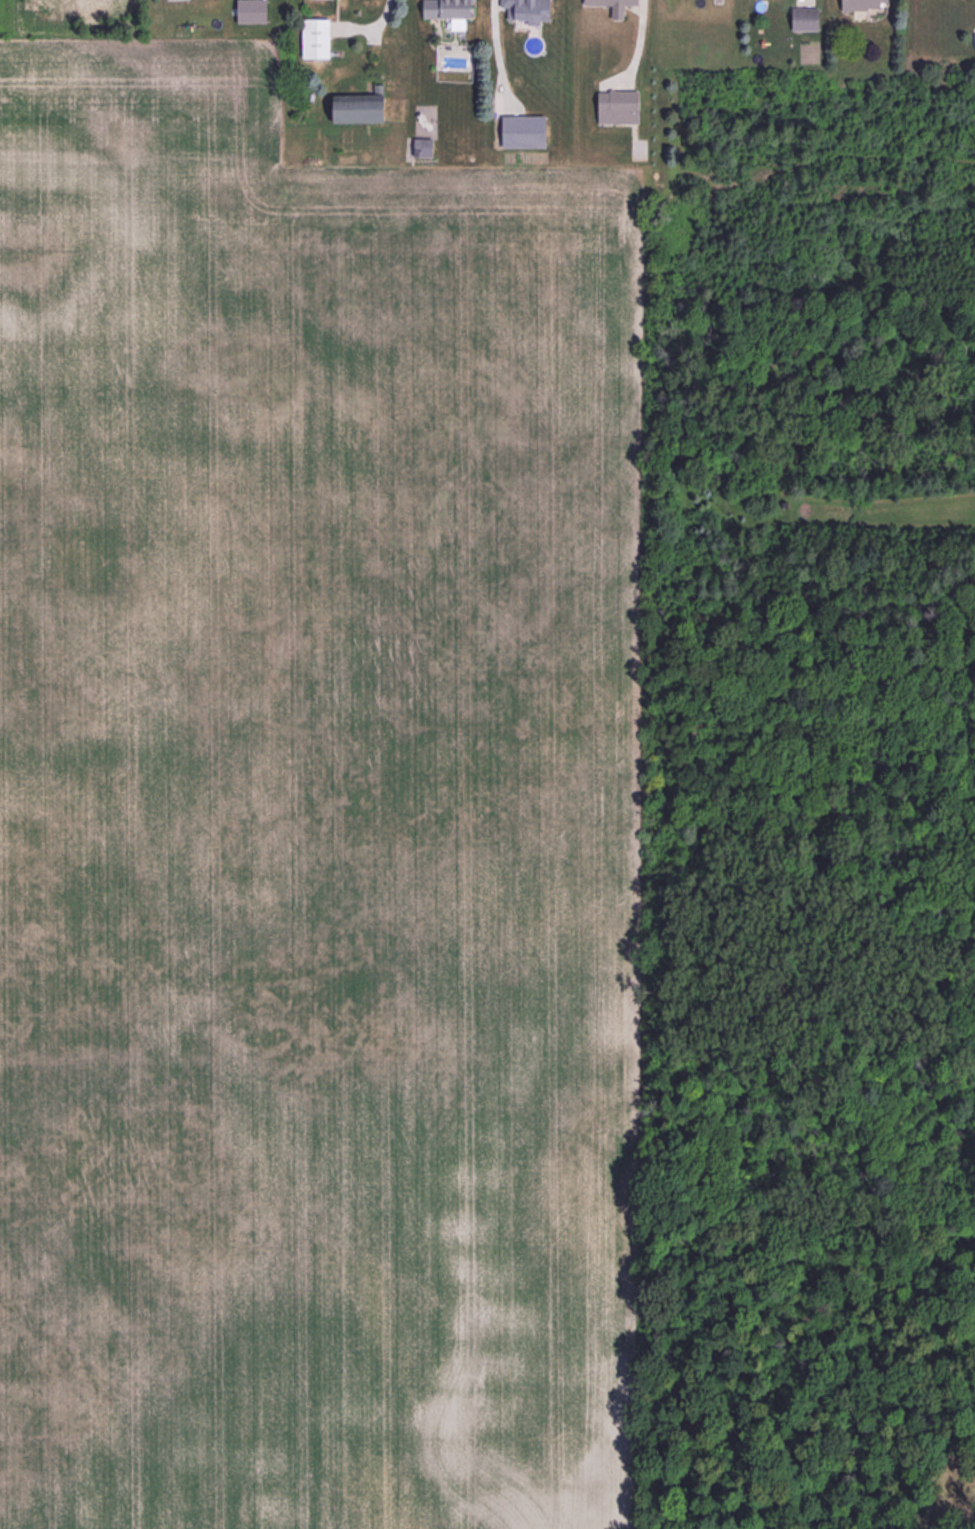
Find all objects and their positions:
building: (860, 4)
building: (612, 6)
building: (527, 10)
building: (804, 19)
road: (375, 23)
building: (315, 38)
building: (617, 107)
building: (357, 108)
building: (523, 131)

